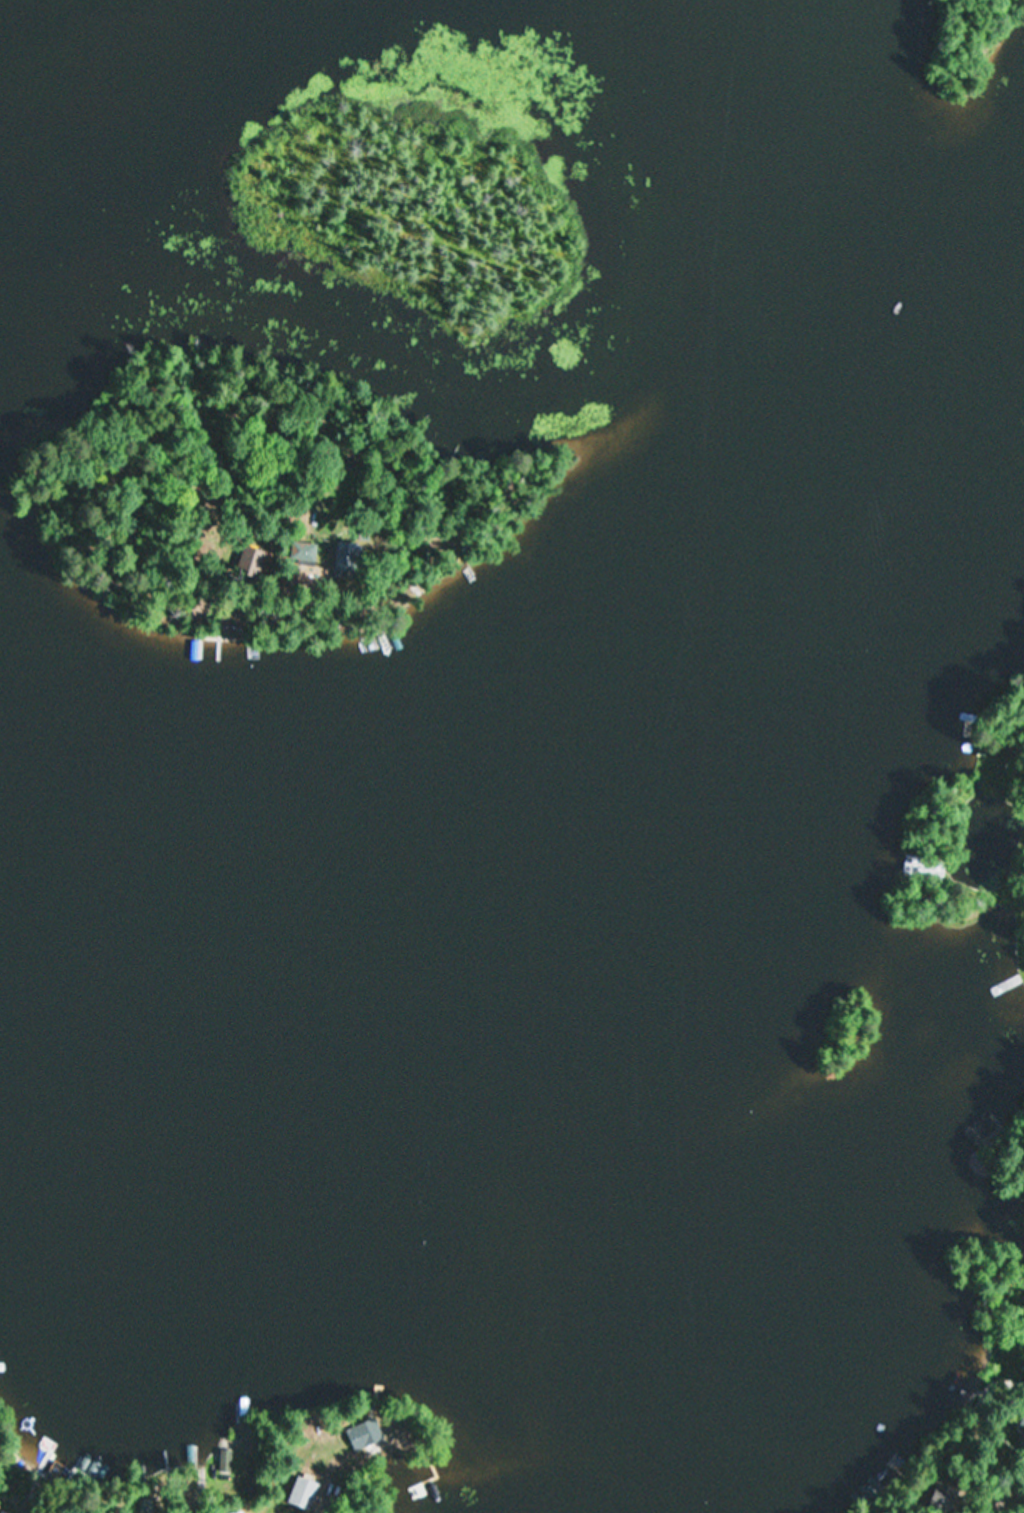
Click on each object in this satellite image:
building: (302, 555)
building: (347, 557)
building: (977, 1131)
river: (330, 1176)
building: (364, 1435)
building: (225, 1460)
building: (303, 1492)
building: (943, 1498)
road: (191, 1501)
building: (239, 1512)

